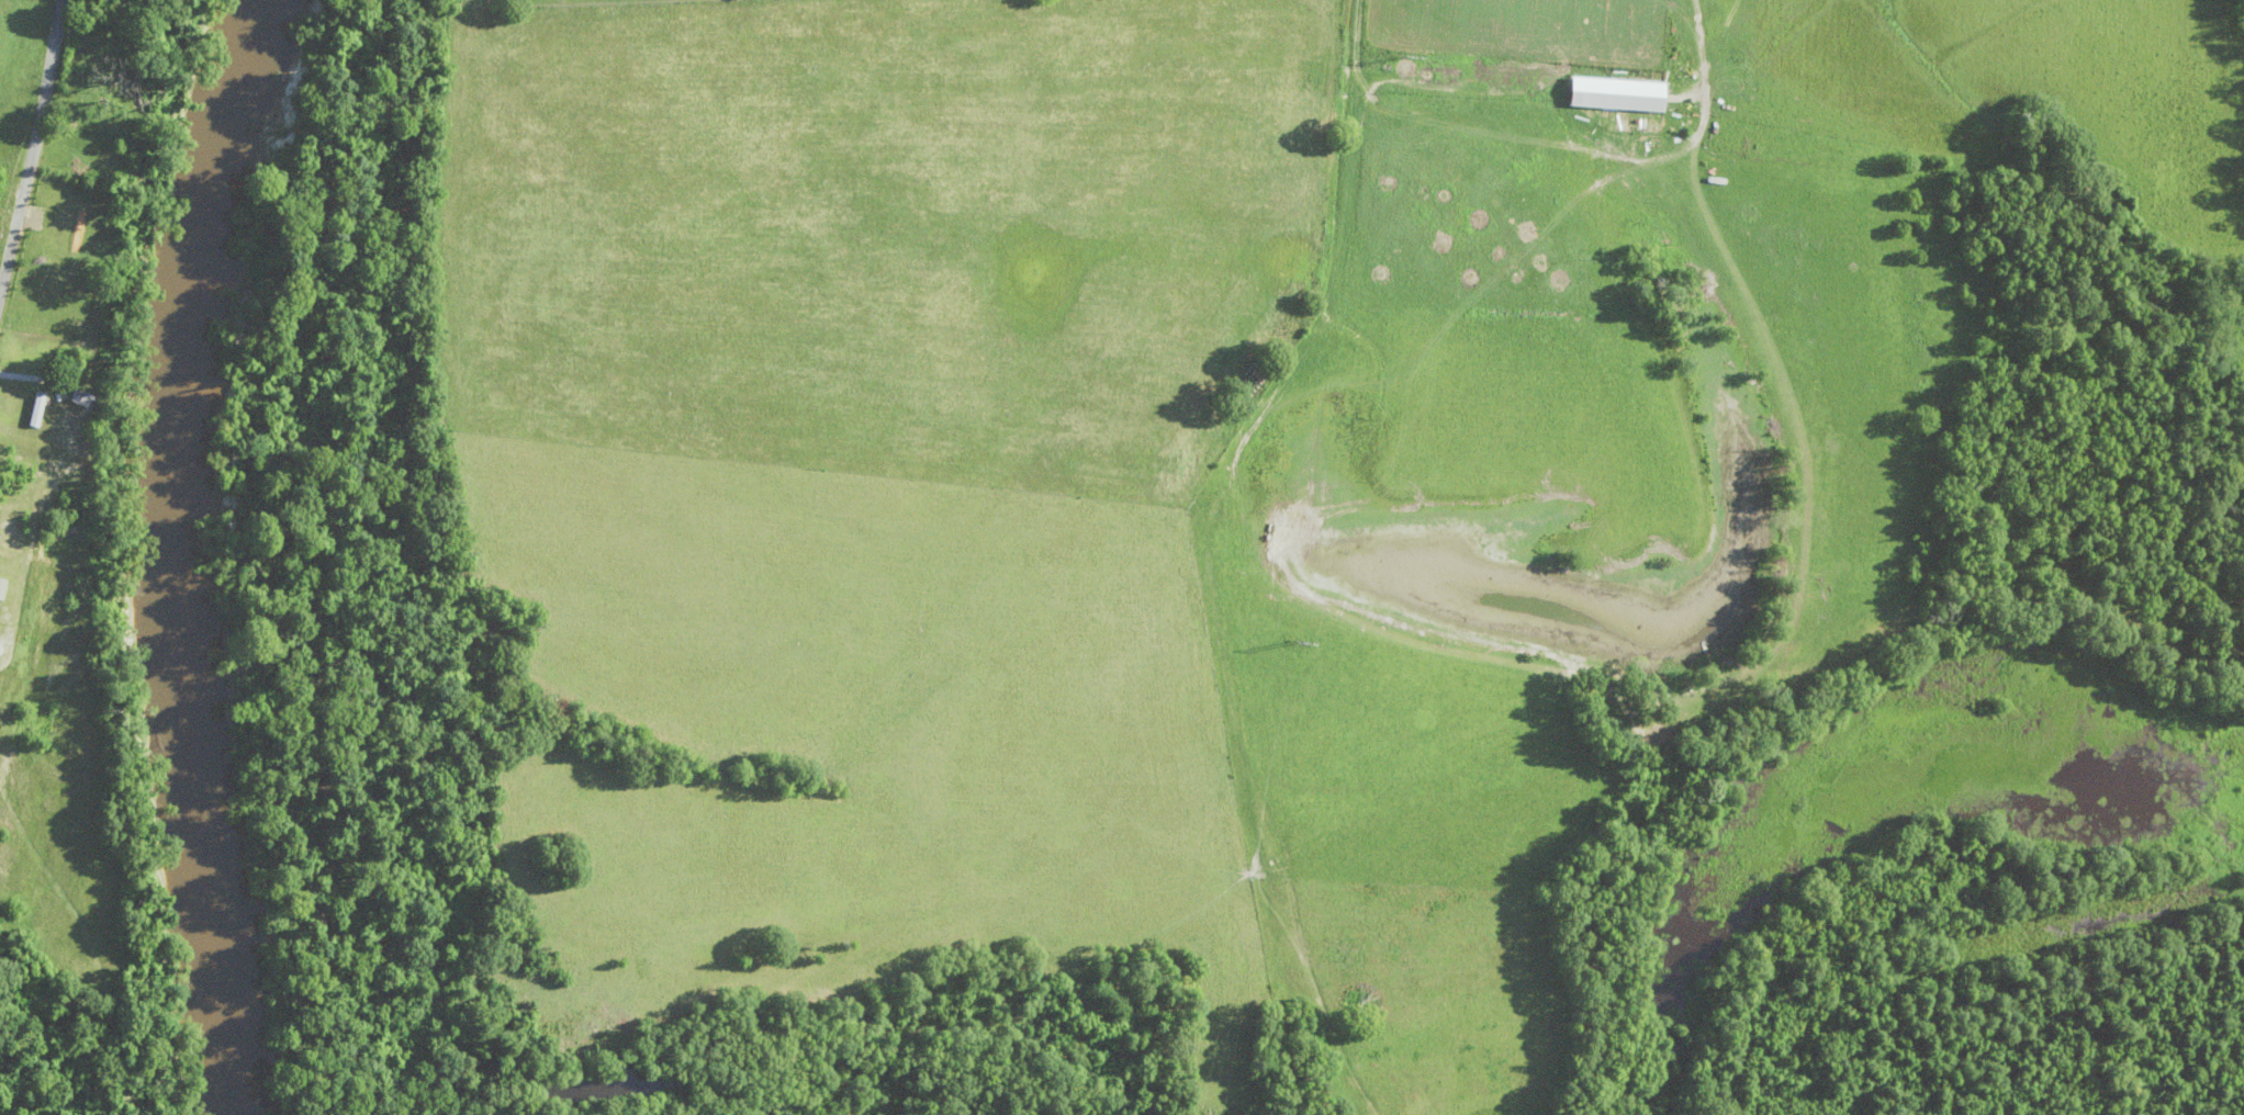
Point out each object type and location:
building: (1631, 95)
road: (34, 146)
building: (78, 399)
building: (34, 409)
river: (158, 554)

